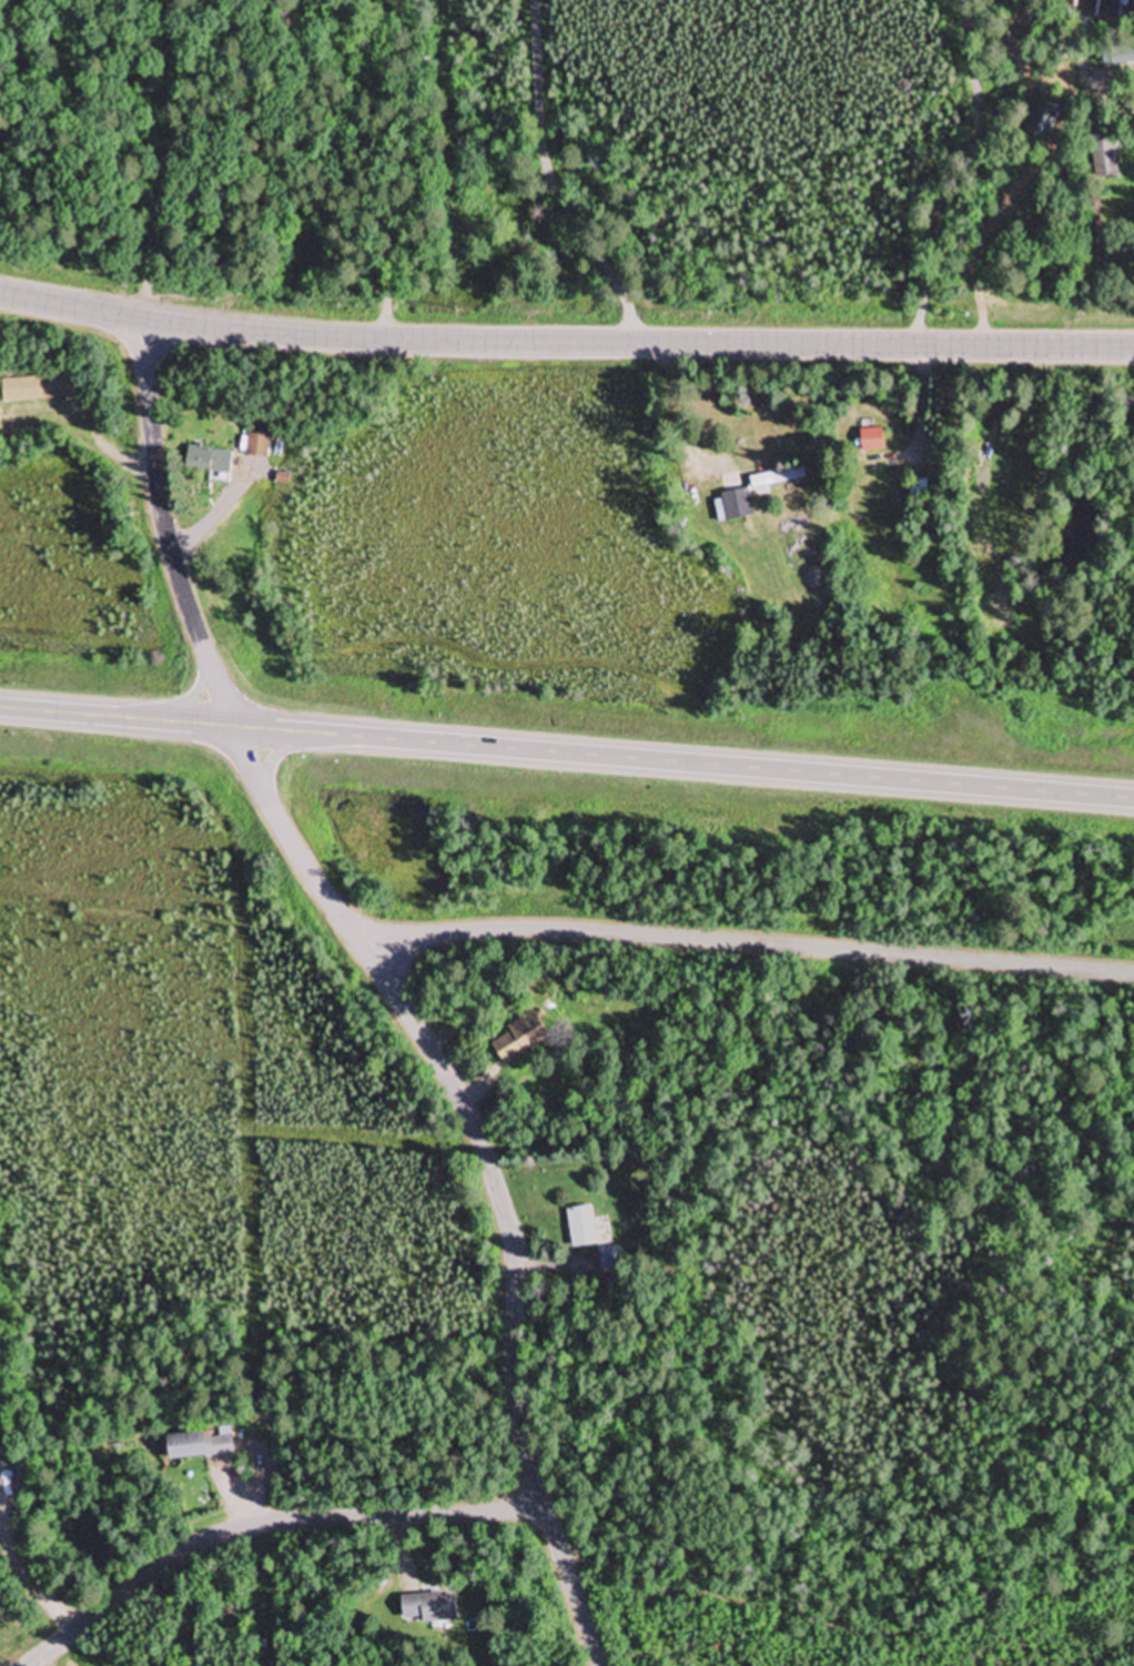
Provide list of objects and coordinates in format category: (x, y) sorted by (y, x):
building: (1122, 57)
building: (1042, 120)
building: (1104, 155)
road: (565, 342)
building: (37, 388)
building: (872, 441)
building: (256, 445)
building: (207, 461)
building: (774, 479)
building: (732, 506)
road: (567, 754)
road: (300, 855)
road: (742, 960)
building: (524, 1036)
building: (581, 1226)
building: (200, 1445)
building: (6, 1458)
road: (256, 1515)
building: (428, 1608)

